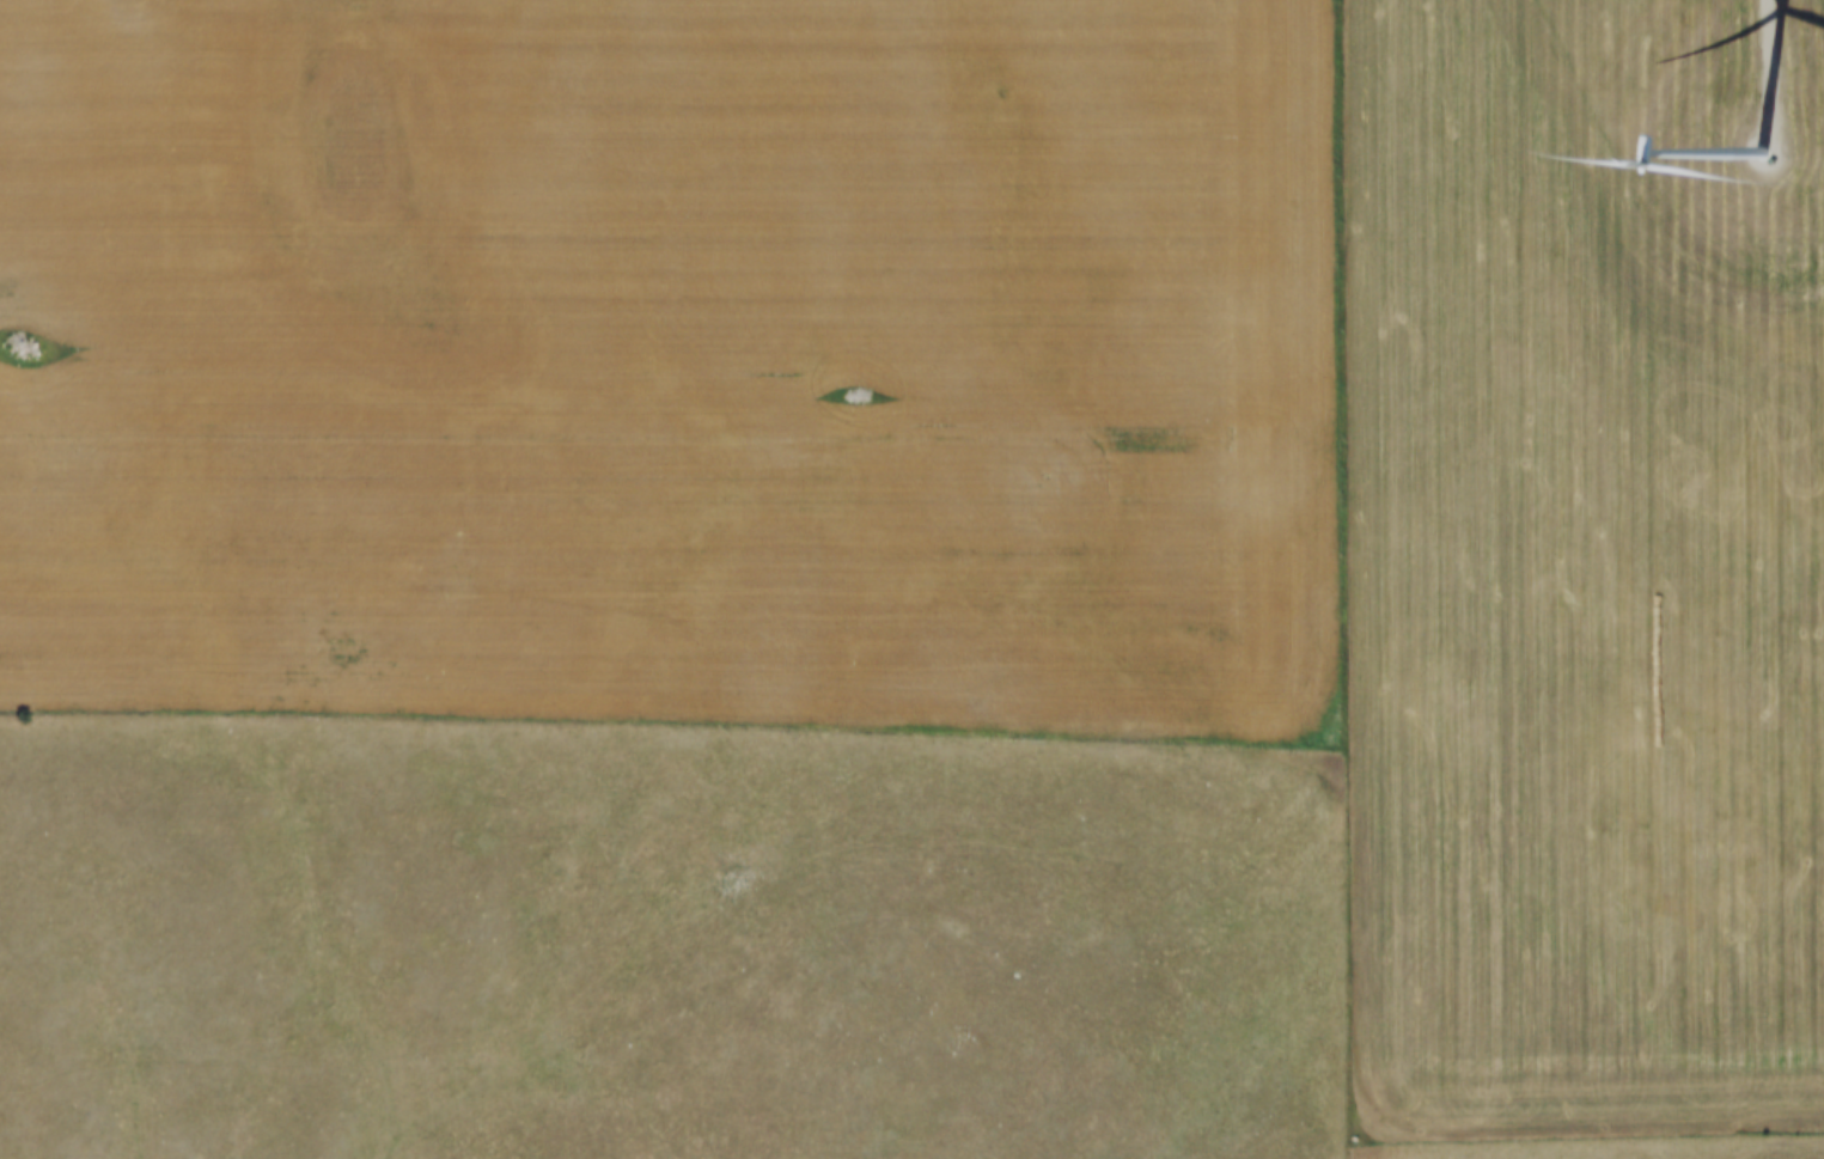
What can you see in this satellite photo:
wind turbine: (1764, 154)

